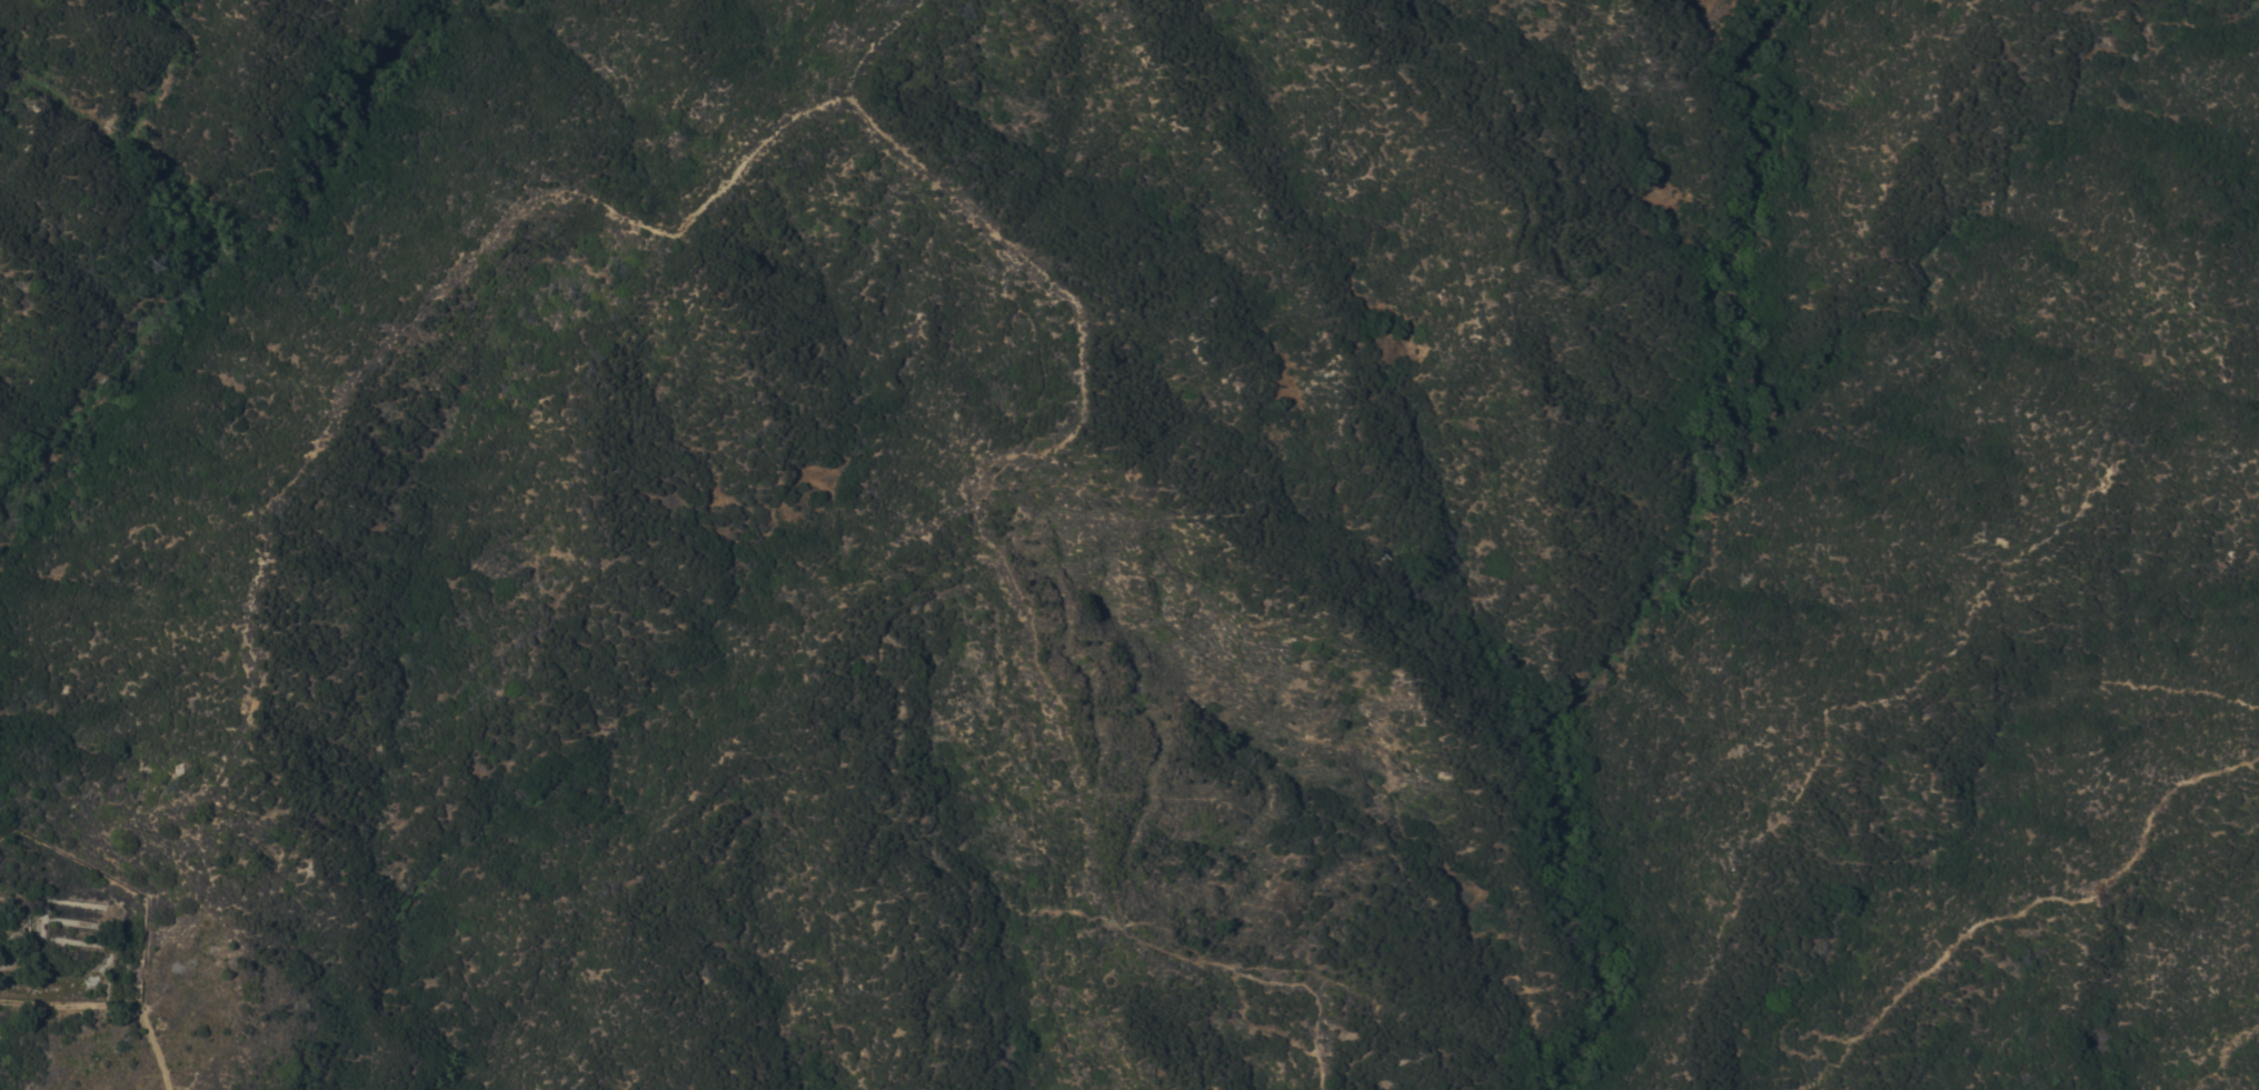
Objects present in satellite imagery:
road: (1811, 741)
road: (1276, 980)
road: (112, 1007)

